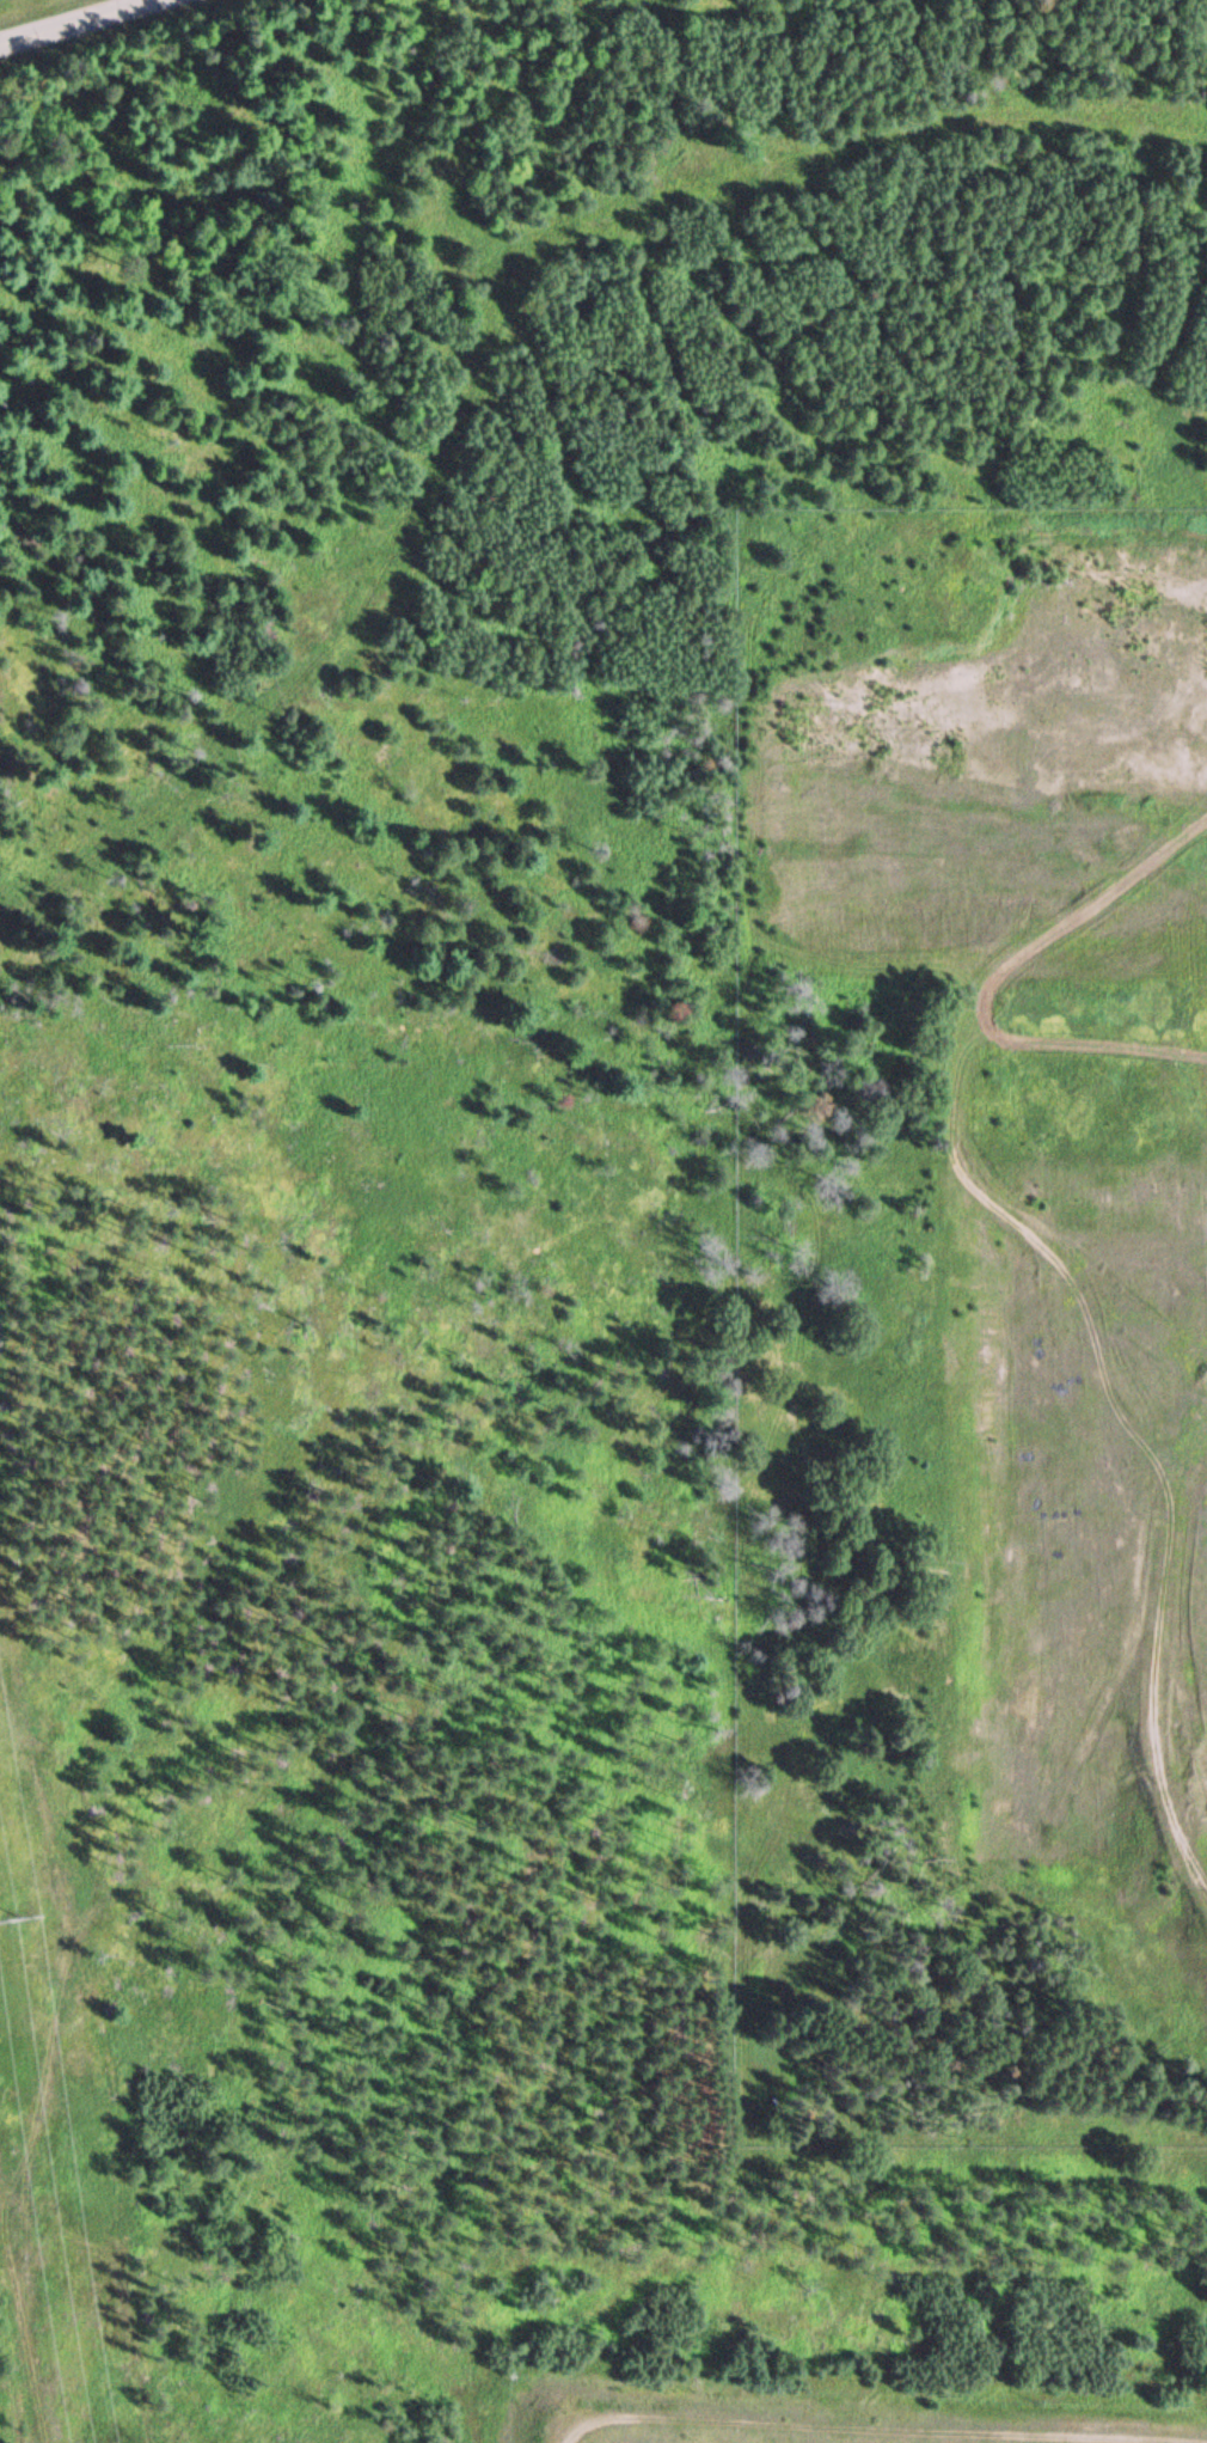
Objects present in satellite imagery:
road: (73, 23)
power tower: (11, 1919)

